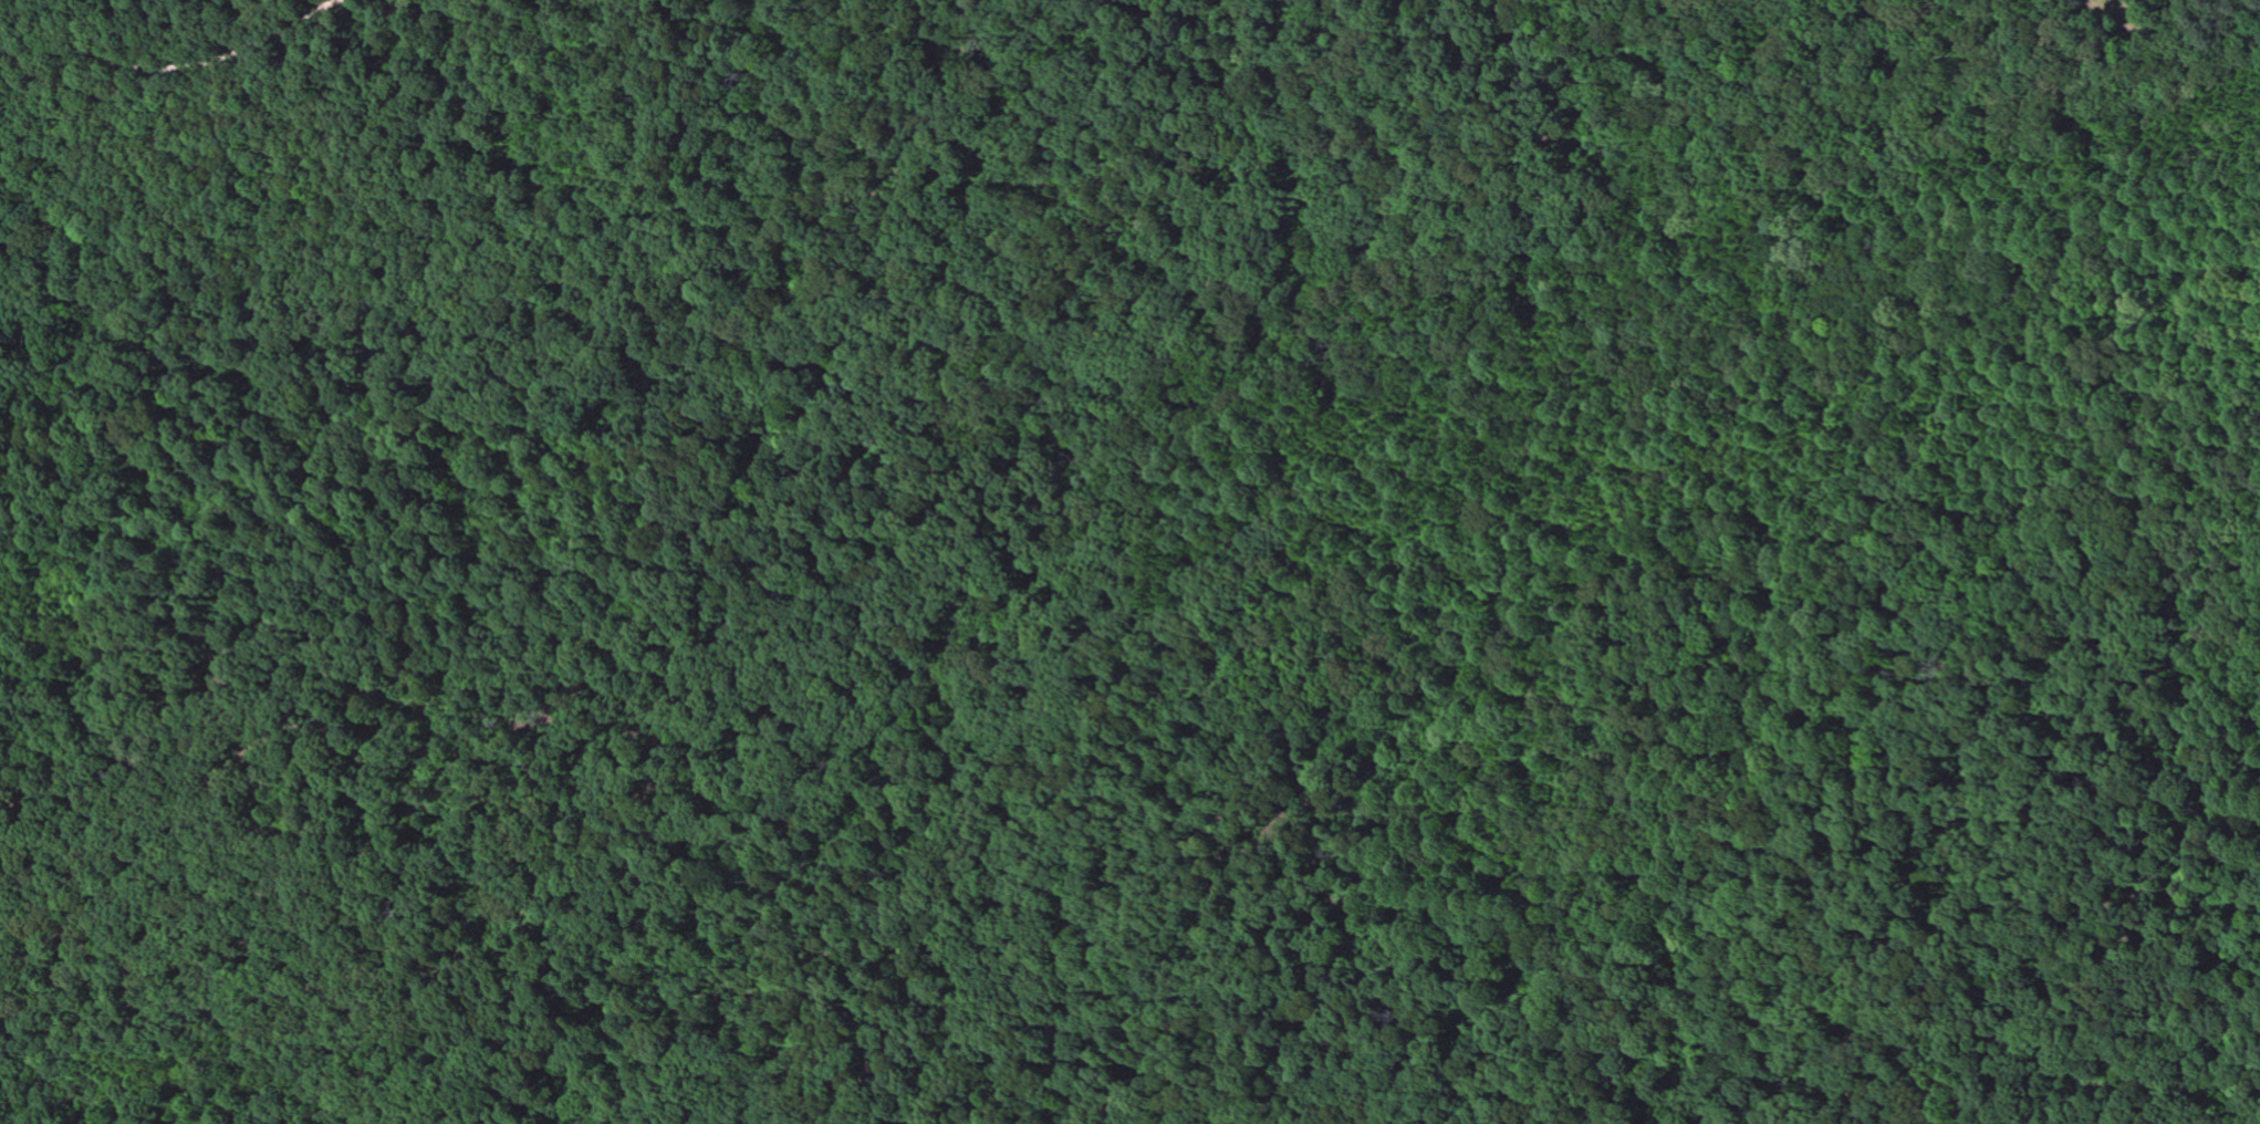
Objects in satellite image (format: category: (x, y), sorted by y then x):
park: (2129, 20)
road: (174, 69)

